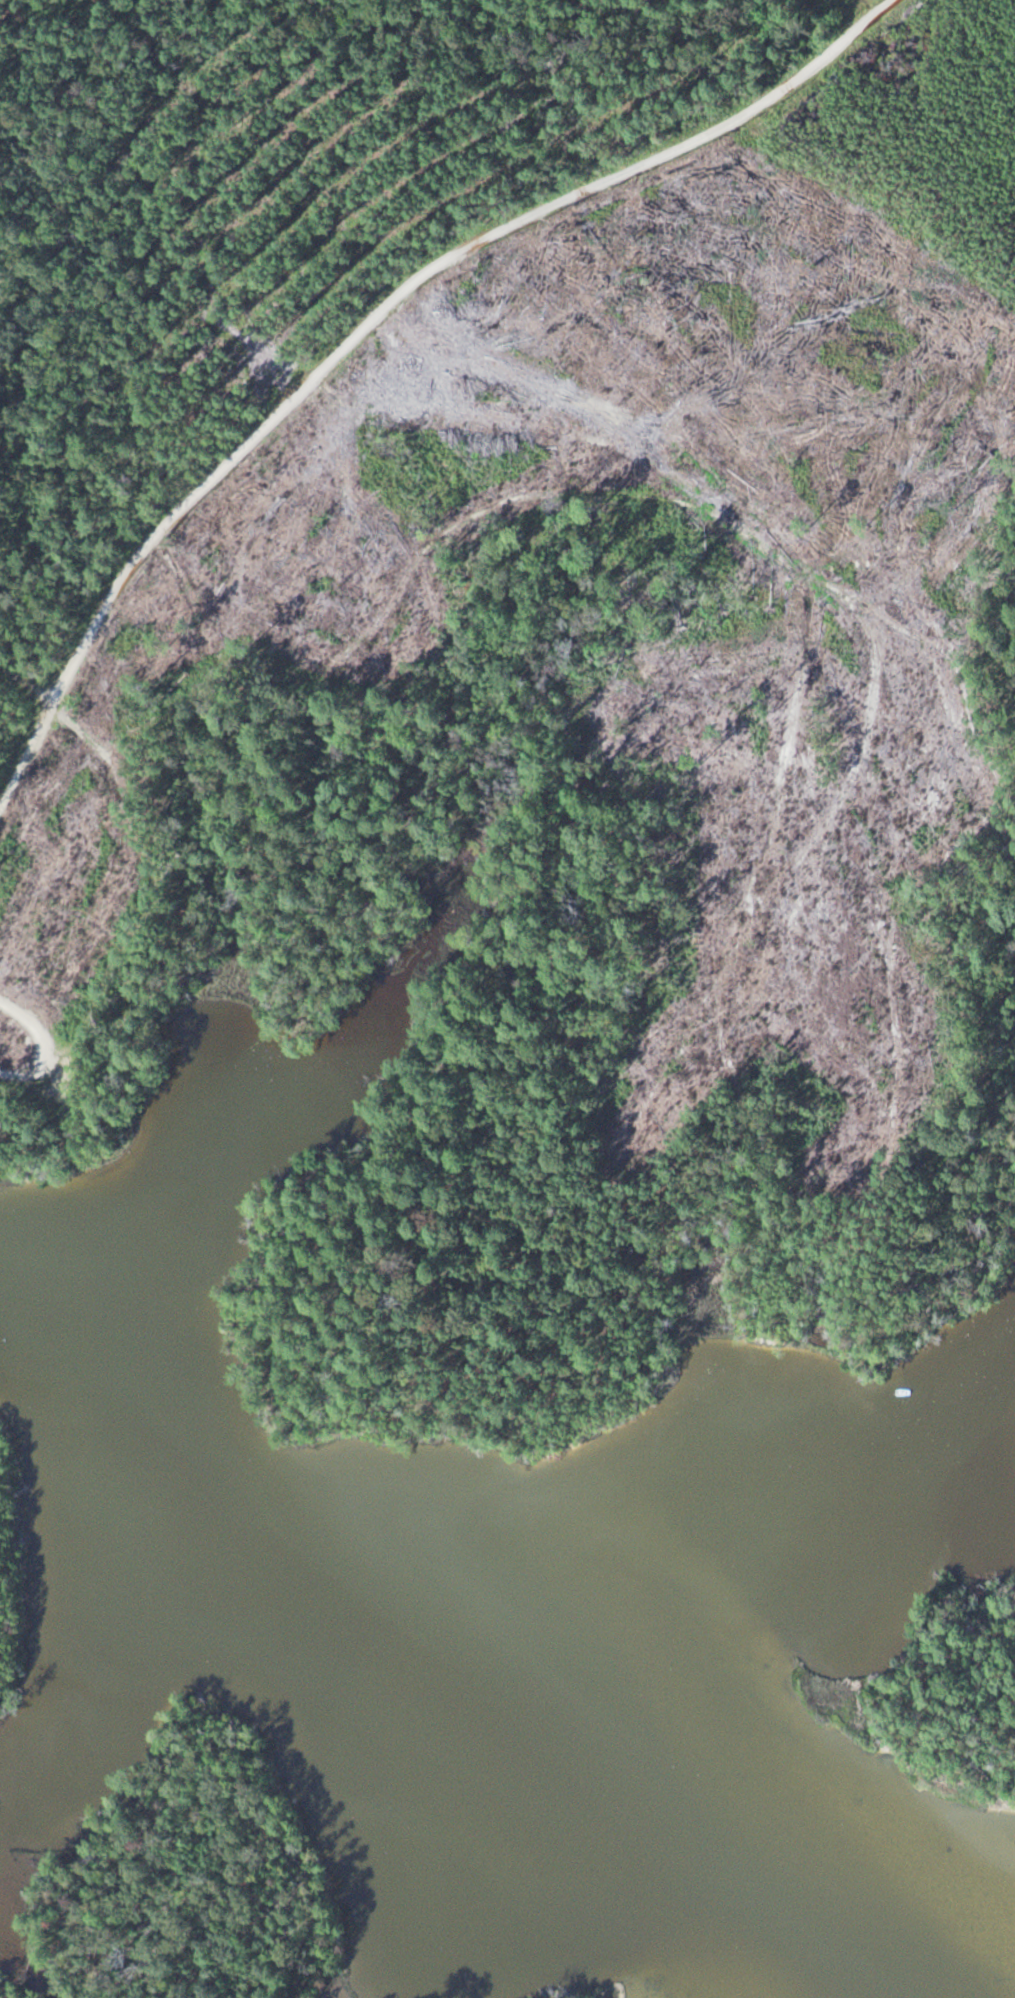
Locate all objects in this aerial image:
road: (365, 322)
road: (45, 1042)

